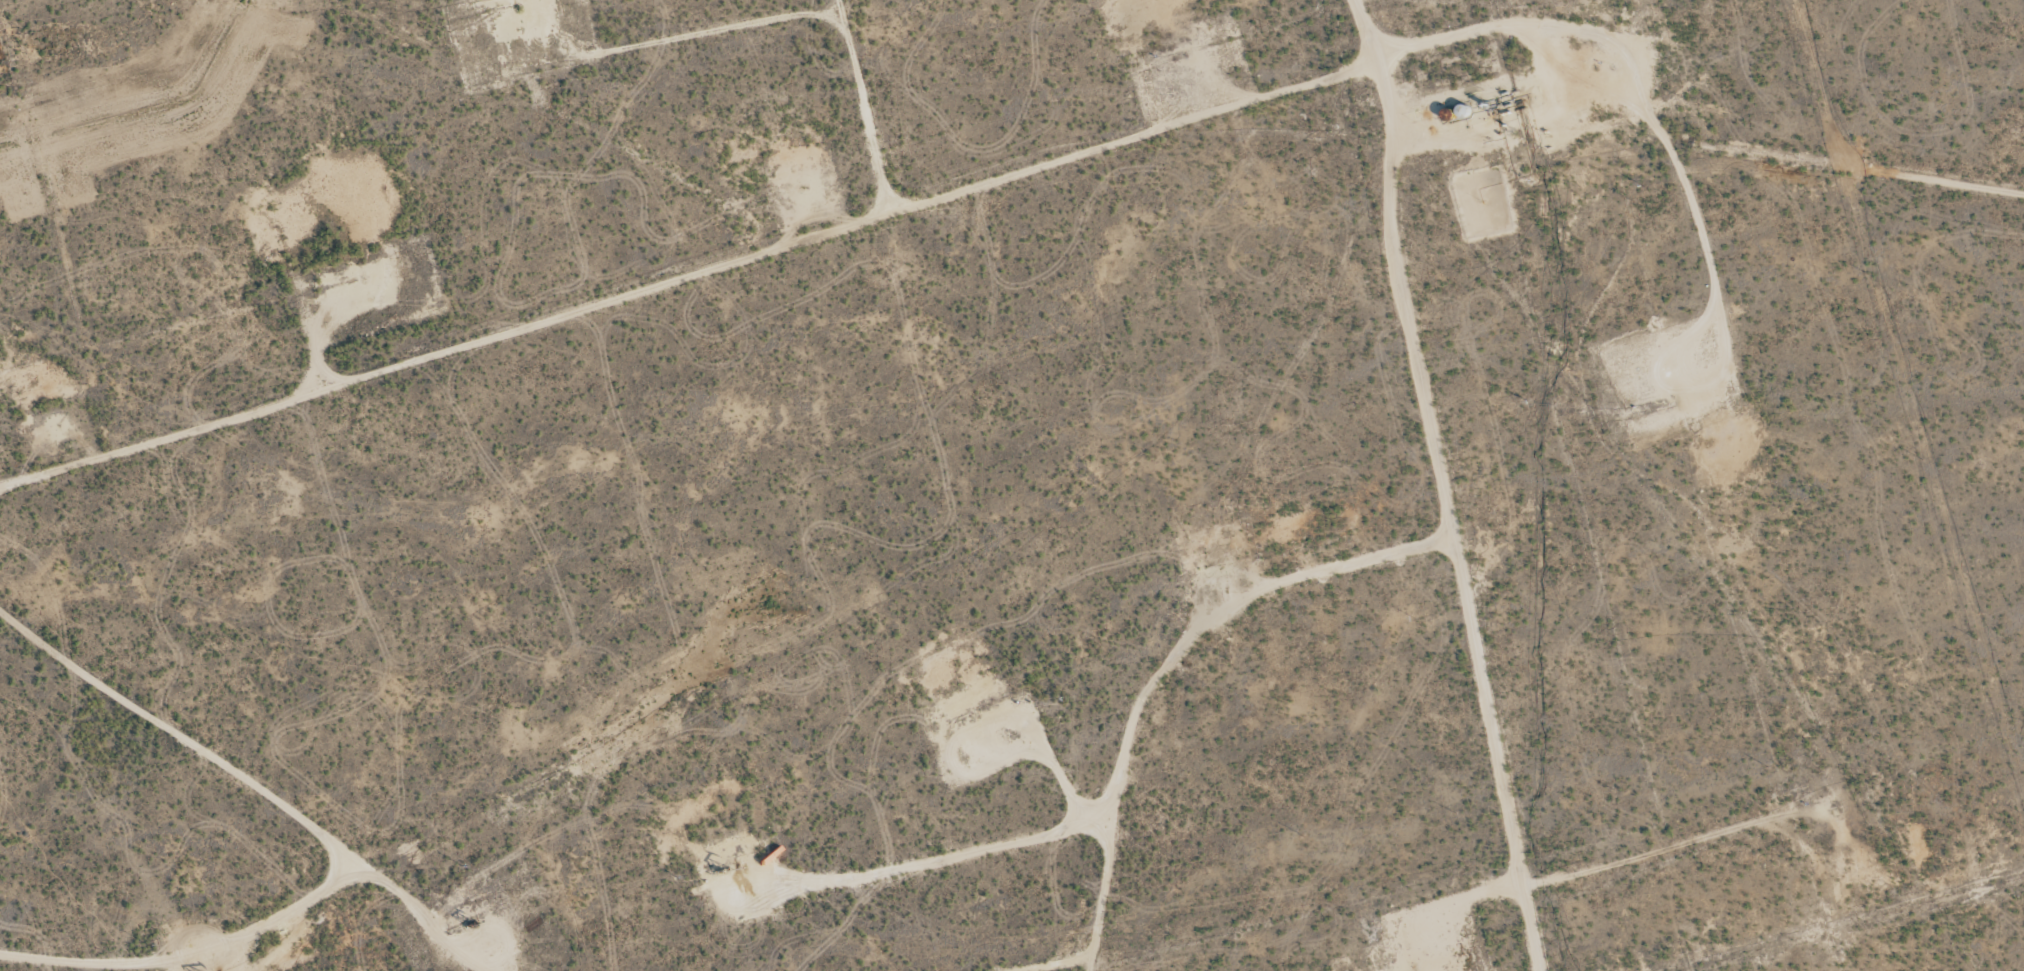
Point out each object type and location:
road: (263, 762)

